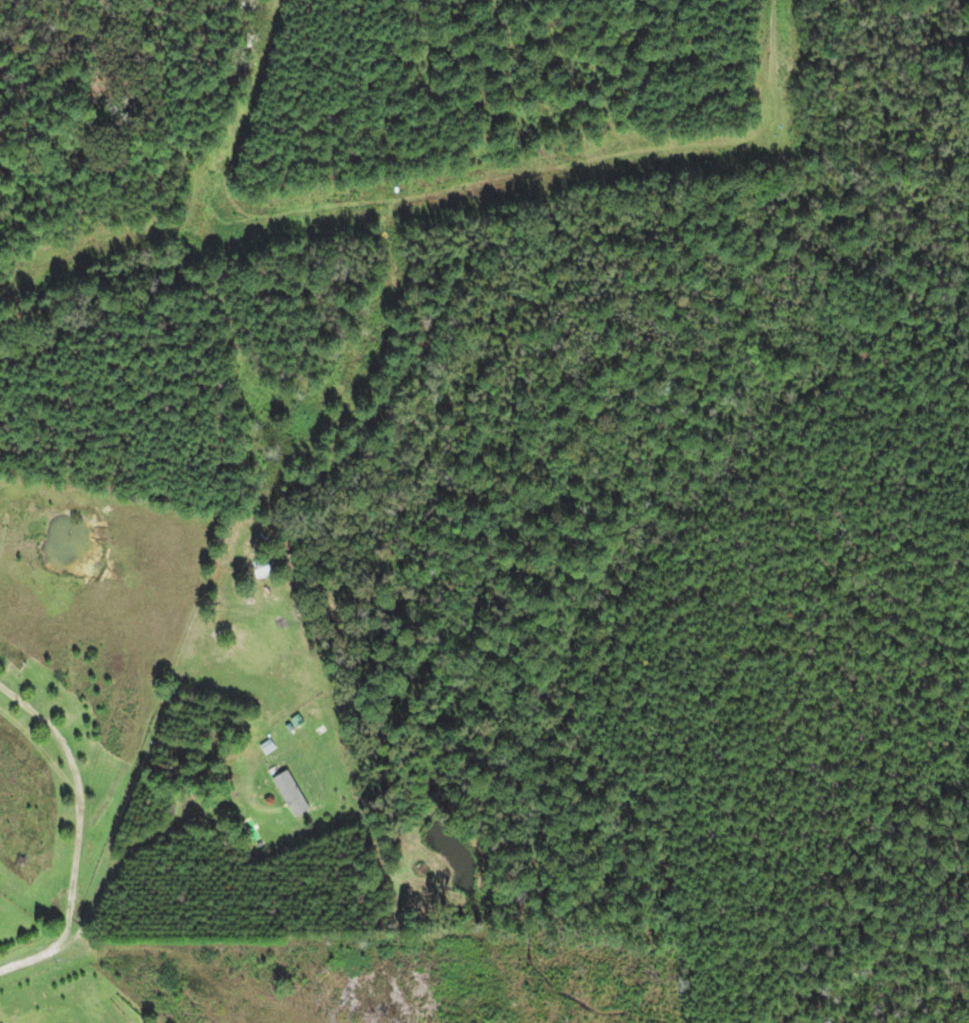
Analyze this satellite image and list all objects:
building: (269, 568)
building: (294, 794)
road: (77, 799)
road: (129, 856)
road: (28, 958)

